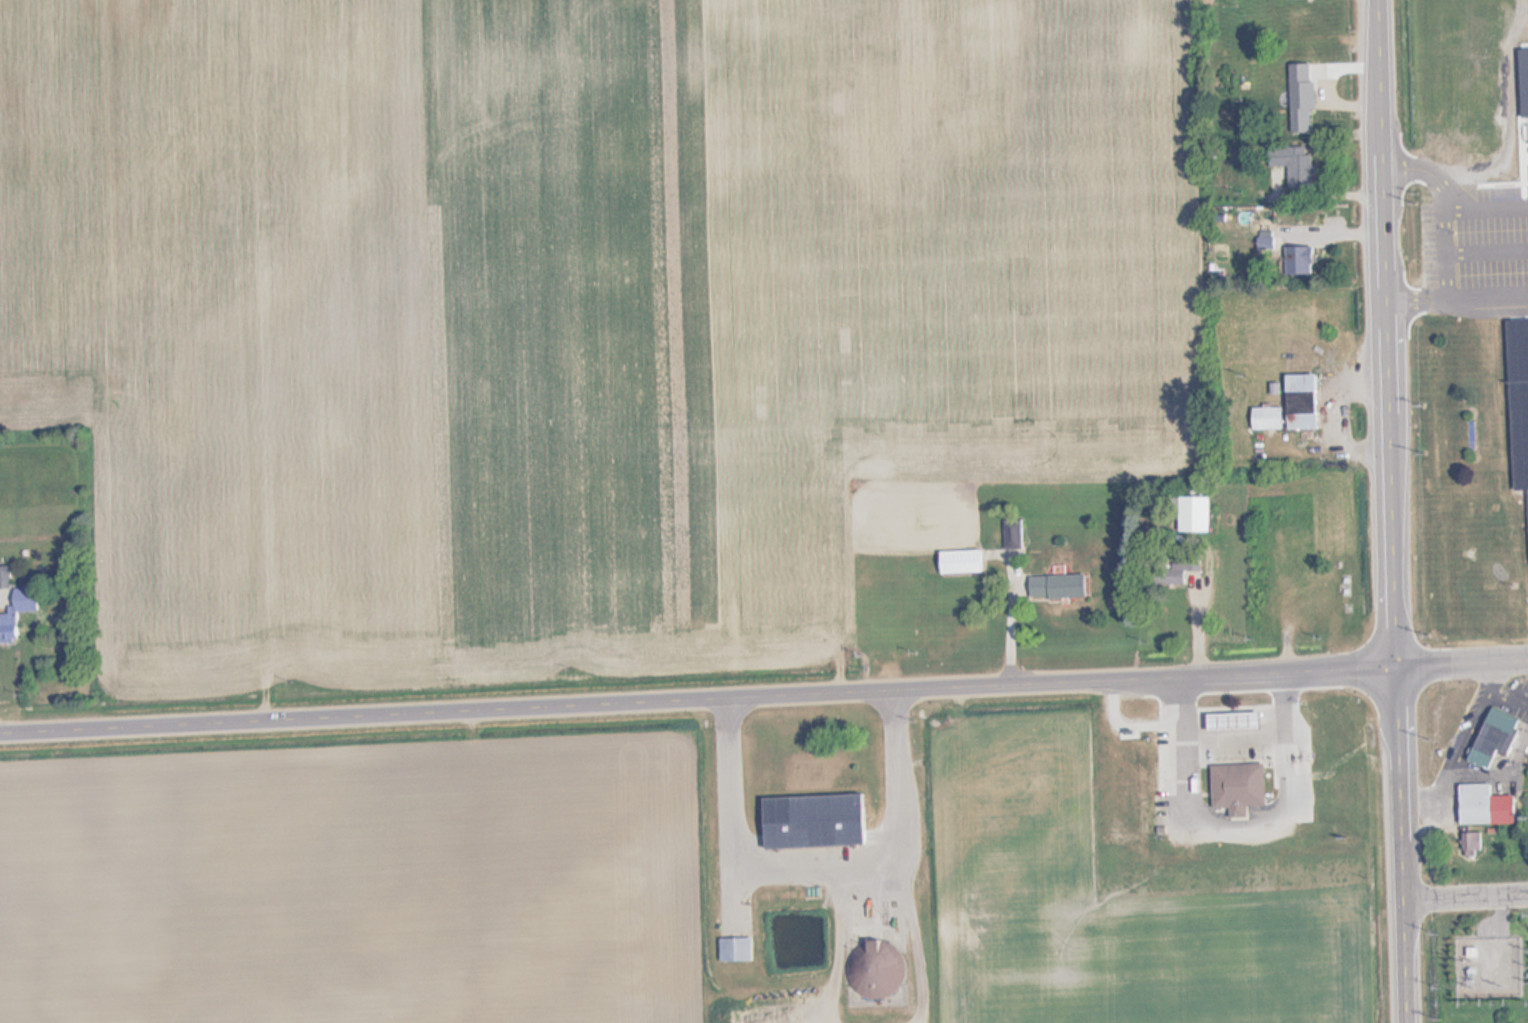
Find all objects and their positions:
building: (1300, 169)
building: (1298, 260)
building: (1518, 397)
building: (1301, 401)
building: (1266, 417)
road: (1390, 511)
building: (1190, 514)
building: (960, 561)
building: (1172, 572)
building: (5, 577)
building: (1057, 585)
building: (8, 629)
road: (1461, 658)
road: (697, 695)
building: (1230, 720)
building: (1491, 738)
building: (1236, 785)
building: (1483, 804)
building: (813, 820)
building: (1470, 840)
road: (1465, 889)
building: (735, 948)
building: (874, 973)

